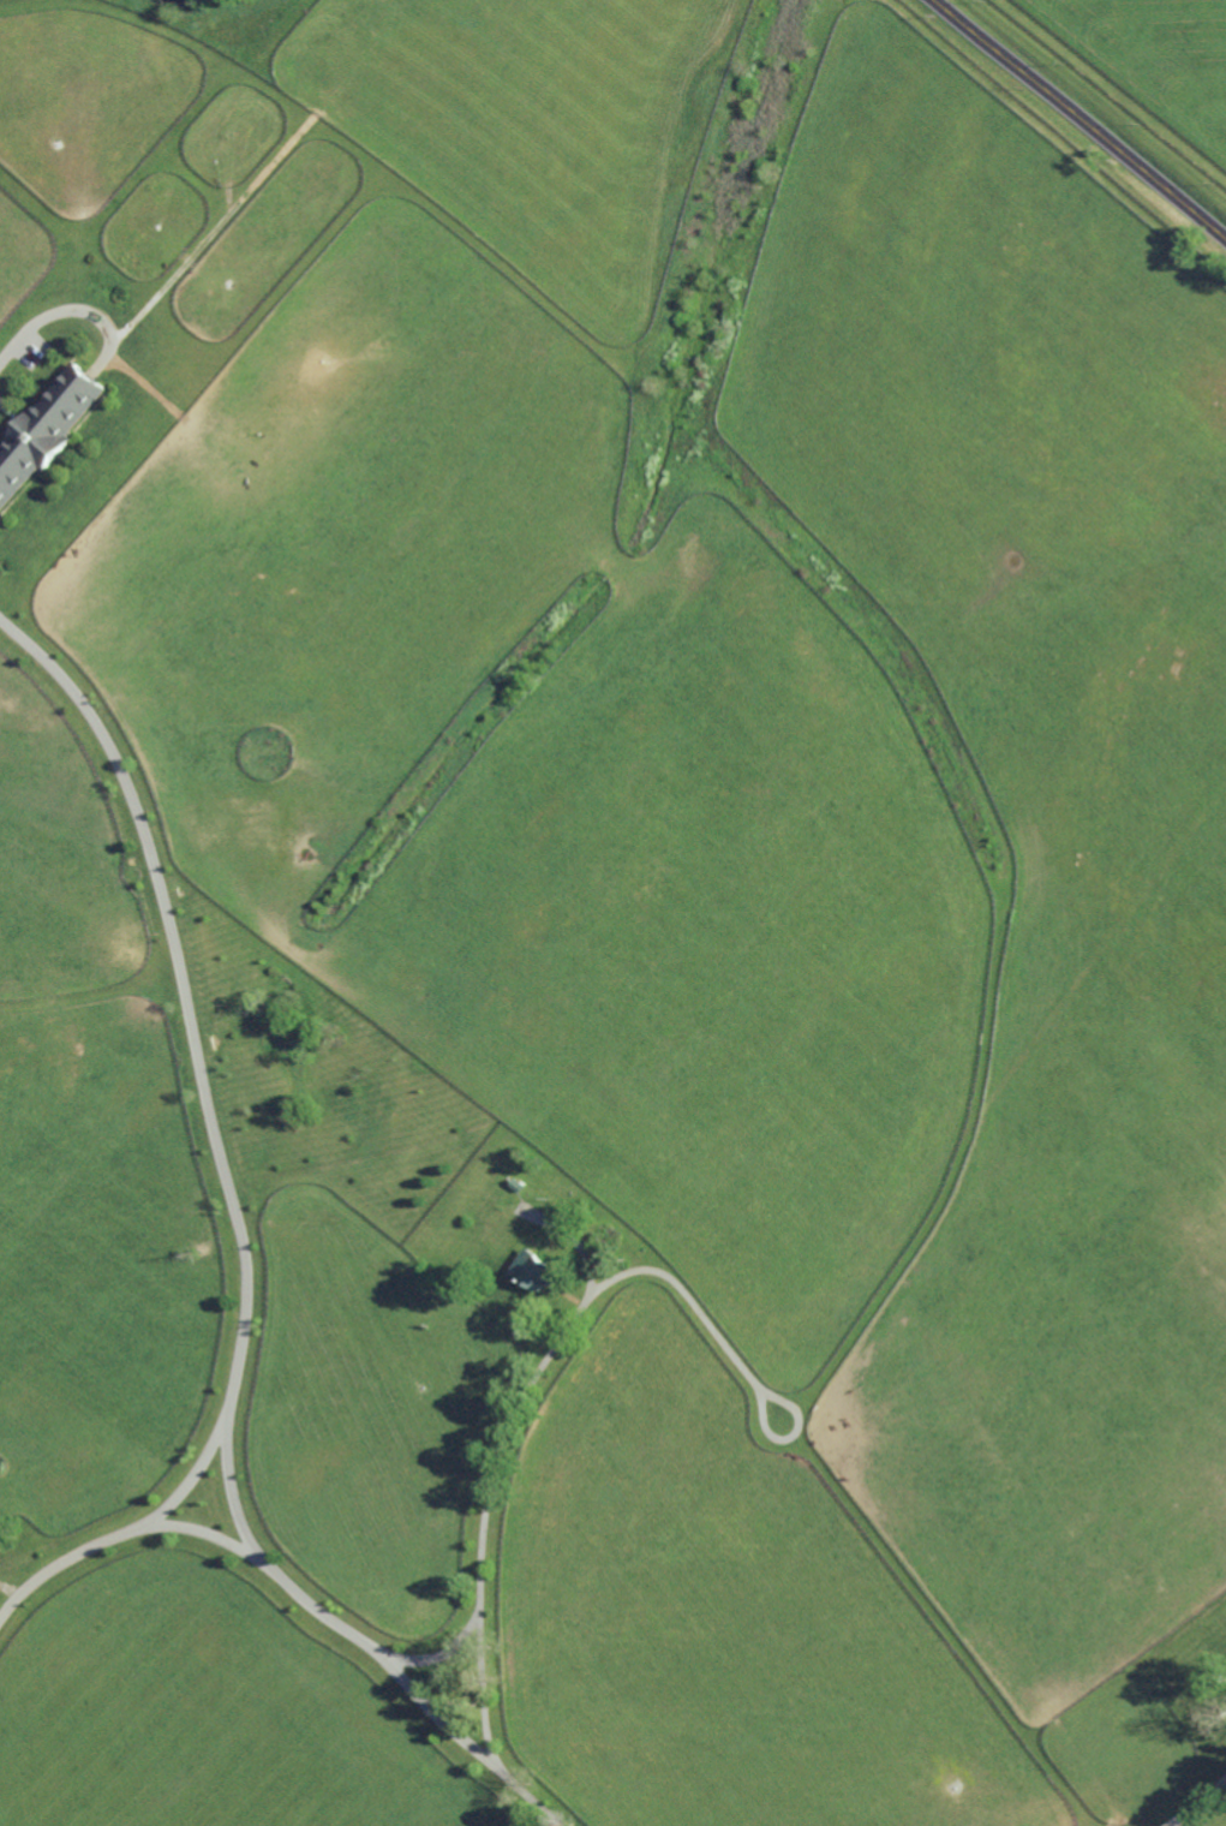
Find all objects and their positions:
road: (1078, 120)
road: (70, 311)
building: (47, 428)
building: (318, 981)
road: (197, 1064)
building: (514, 1184)
building: (503, 1200)
building: (626, 1241)
building: (530, 1271)
road: (558, 1345)
road: (186, 1480)
road: (293, 1591)
road: (439, 1658)
building: (401, 1723)
building: (1143, 1791)
road: (1196, 1801)

